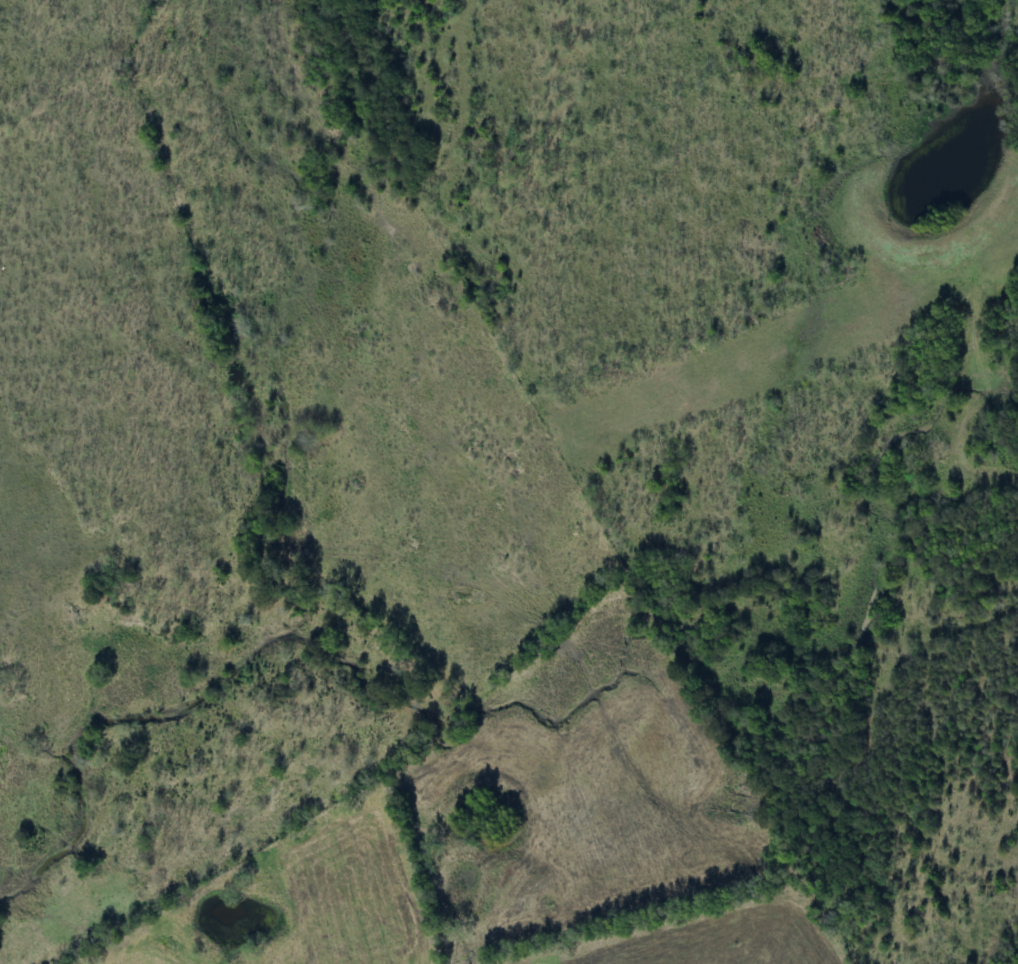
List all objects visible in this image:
road: (57, 924)

